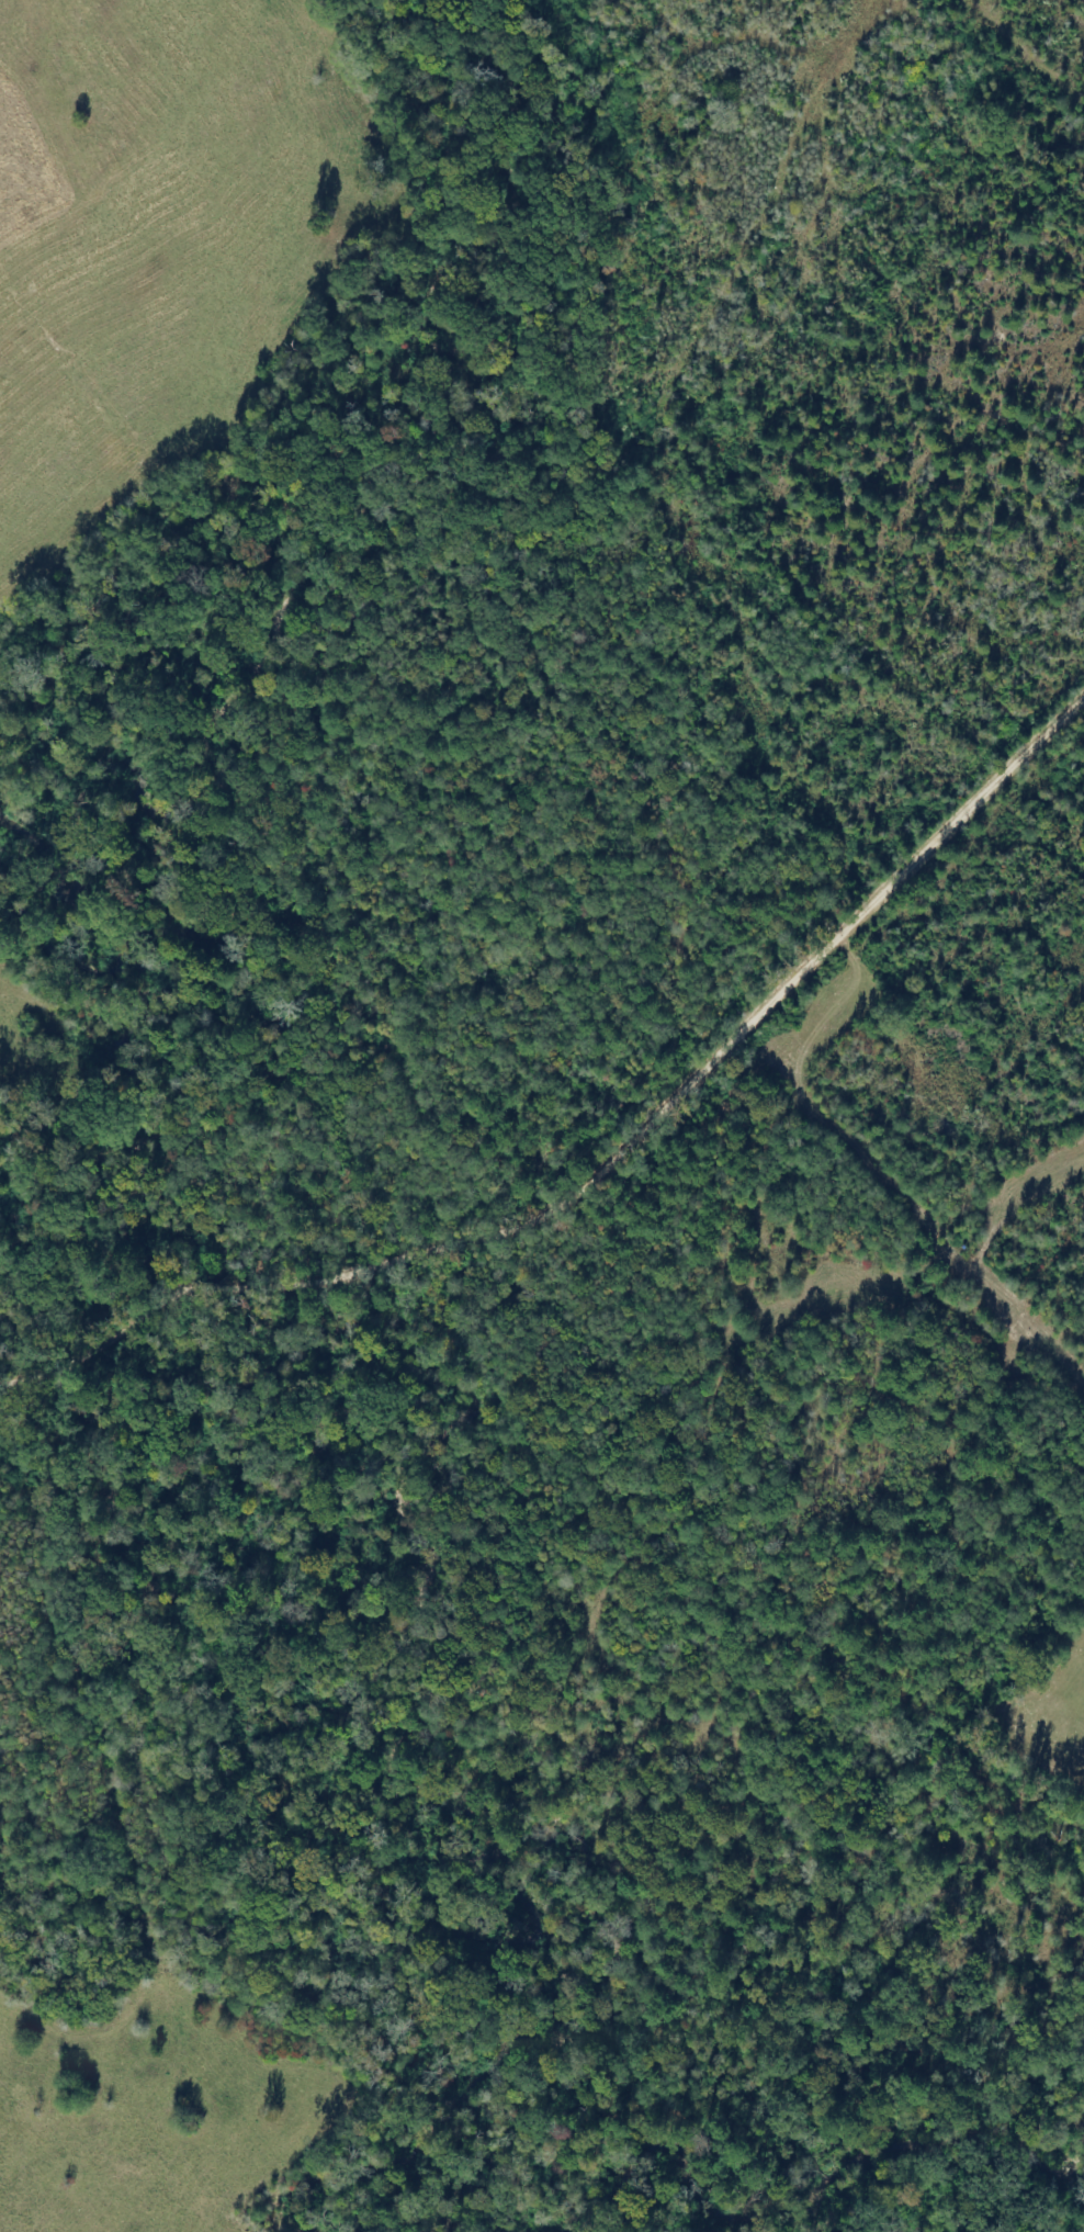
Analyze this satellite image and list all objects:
road: (608, 1162)

